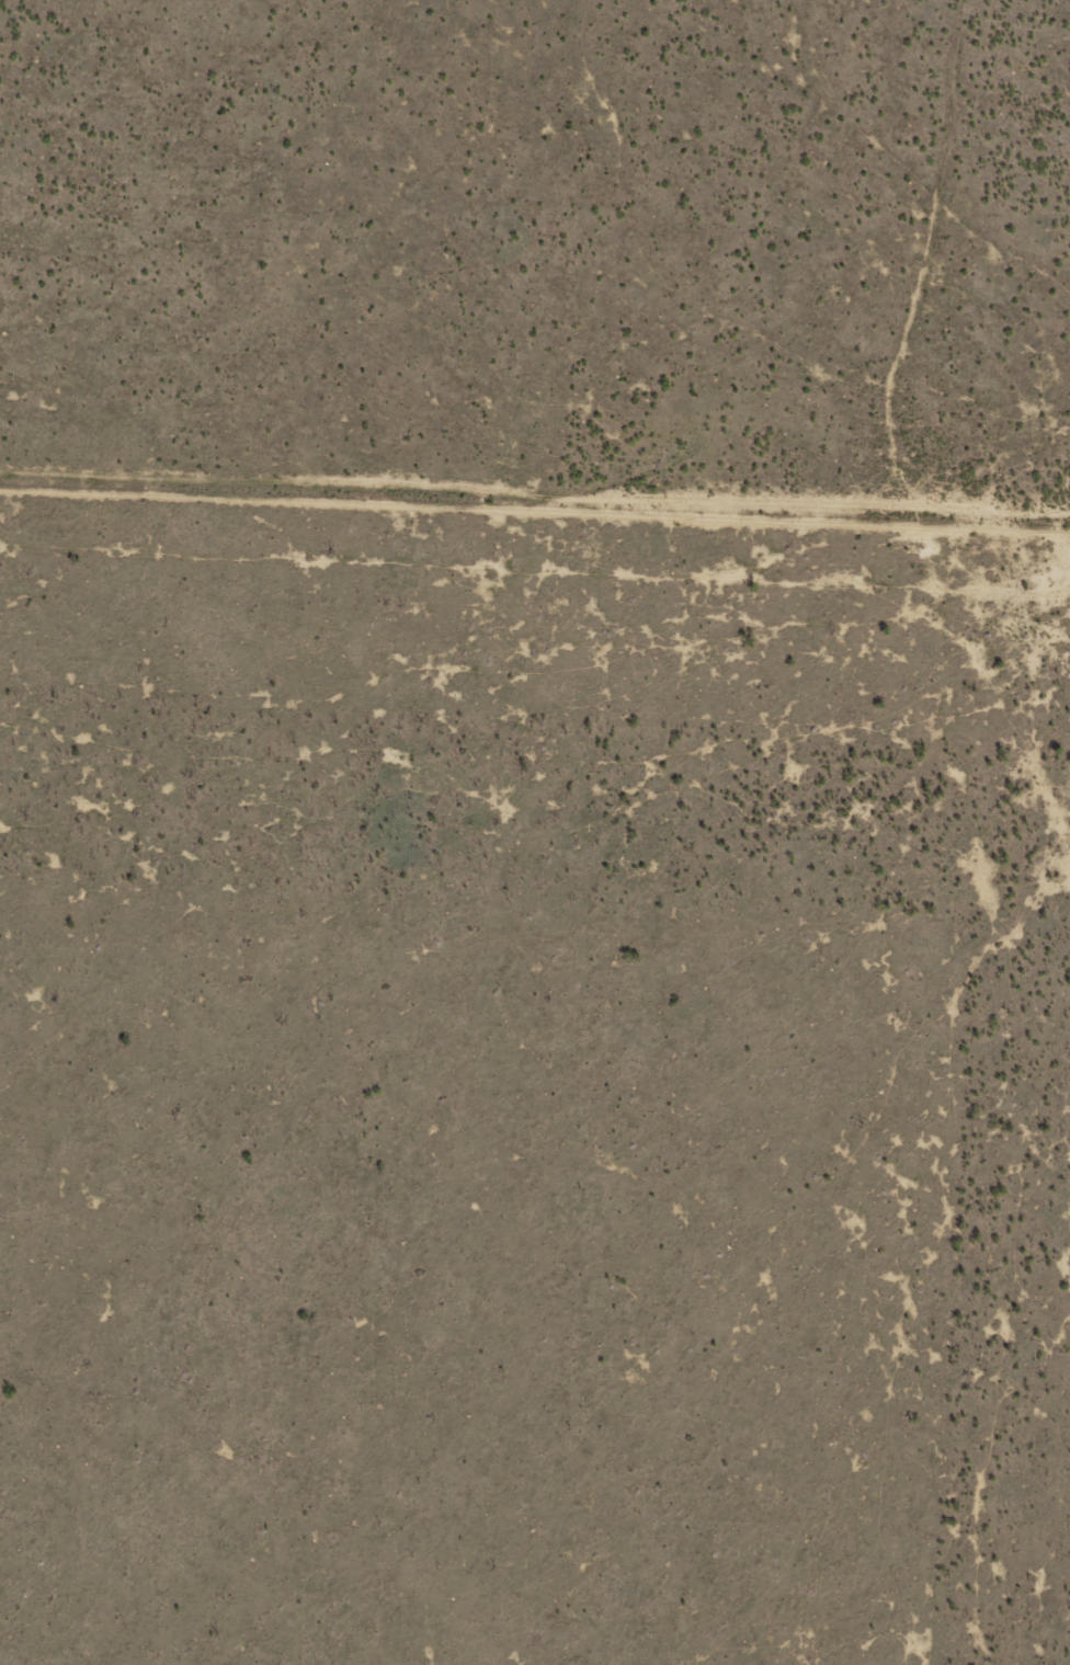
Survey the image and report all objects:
road: (534, 523)

